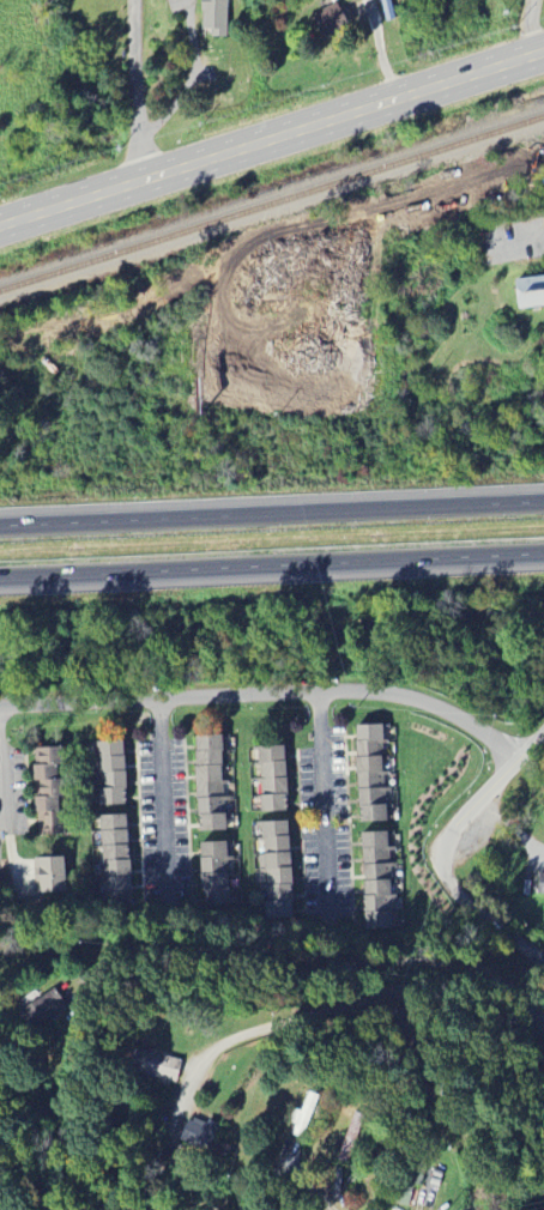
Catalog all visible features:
building: (216, 17)
building: (330, 19)
road: (531, 29)
road: (186, 84)
road: (137, 91)
road: (272, 139)
railway: (272, 205)
building: (531, 291)
road: (272, 514)
road: (272, 567)
road: (266, 690)
road: (531, 743)
building: (108, 770)
building: (370, 772)
building: (271, 776)
building: (210, 782)
building: (47, 791)
road: (320, 799)
road: (164, 803)
building: (115, 858)
road: (443, 866)
building: (276, 869)
building: (48, 872)
building: (214, 872)
building: (377, 881)
building: (540, 883)
road: (298, 1023)
building: (156, 1064)
building: (199, 1133)
road: (309, 1184)
road: (540, 1204)

